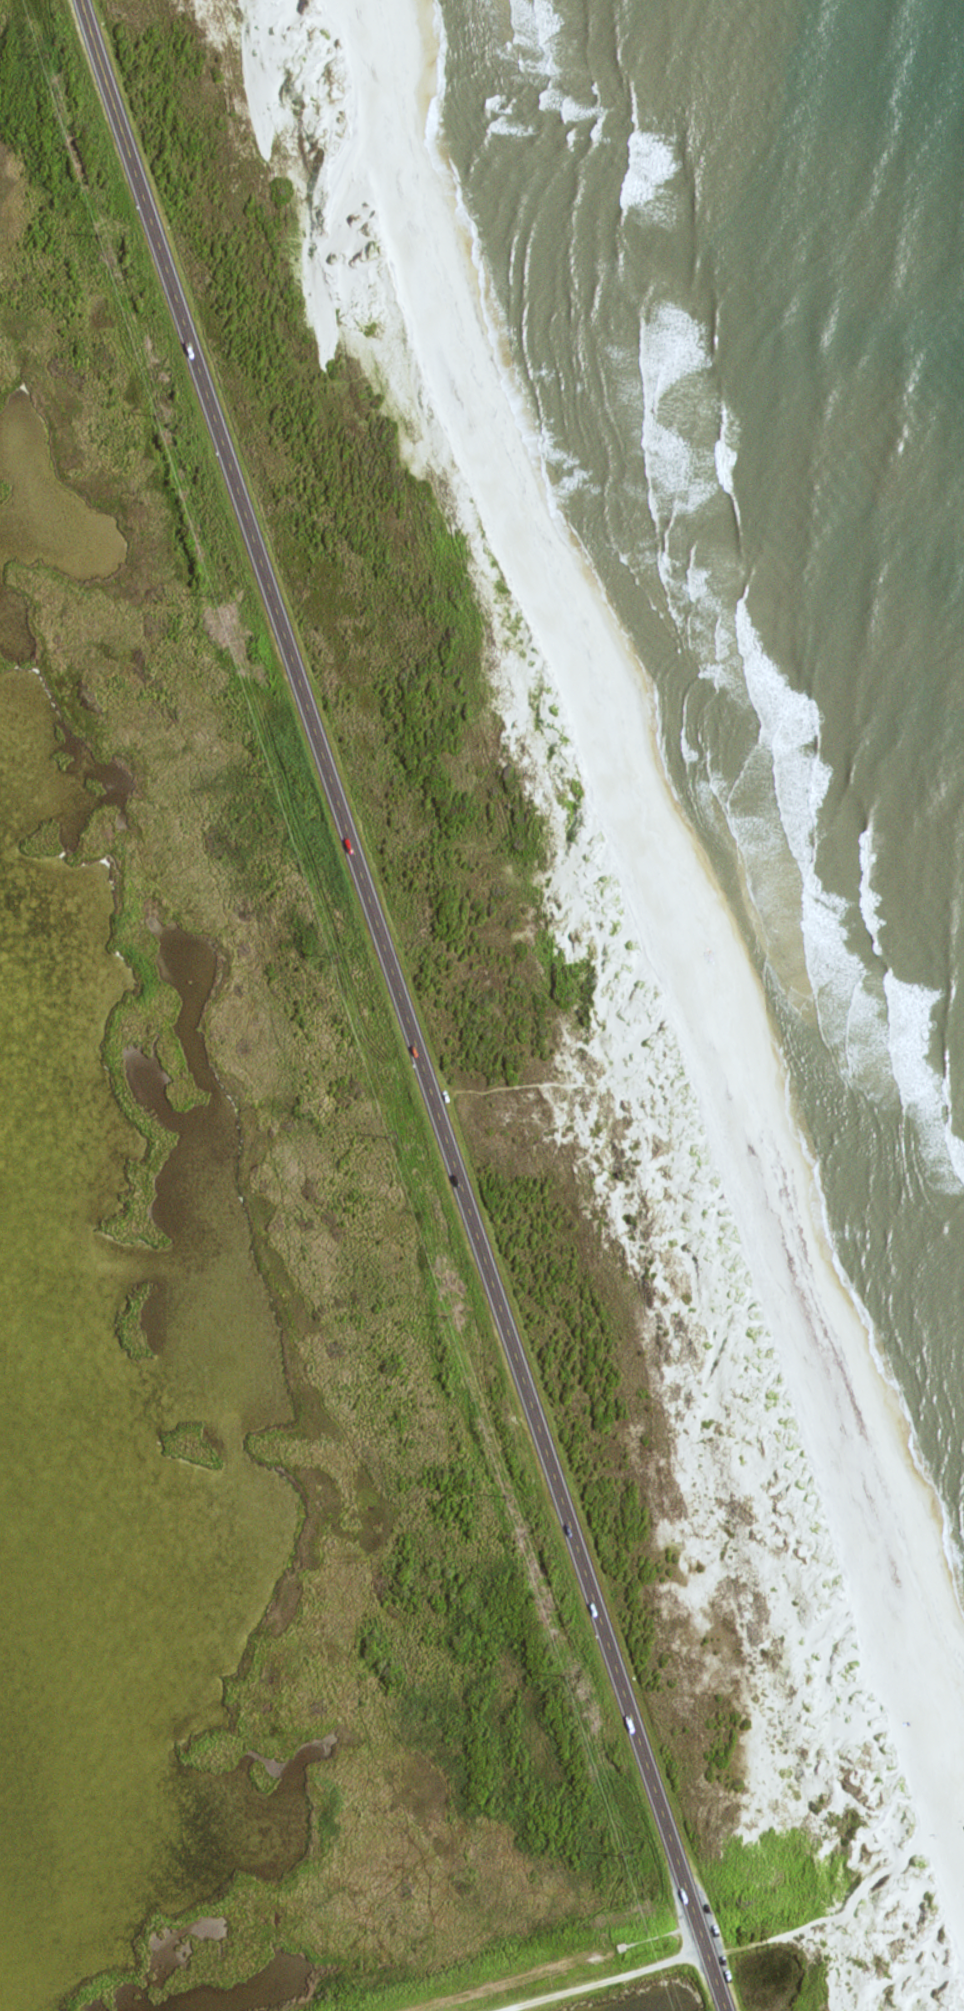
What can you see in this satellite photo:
power tower: (38, 50)
power tower: (99, 238)
power tower: (159, 415)
power tower: (217, 597)
power tower: (271, 768)
road: (711, 872)
power tower: (331, 956)
road: (402, 1005)
road: (517, 1085)
power tower: (391, 1137)
power tower: (447, 1313)
power tower: (507, 1496)
power tower: (569, 1677)
power tower: (624, 1854)
road: (604, 1981)

